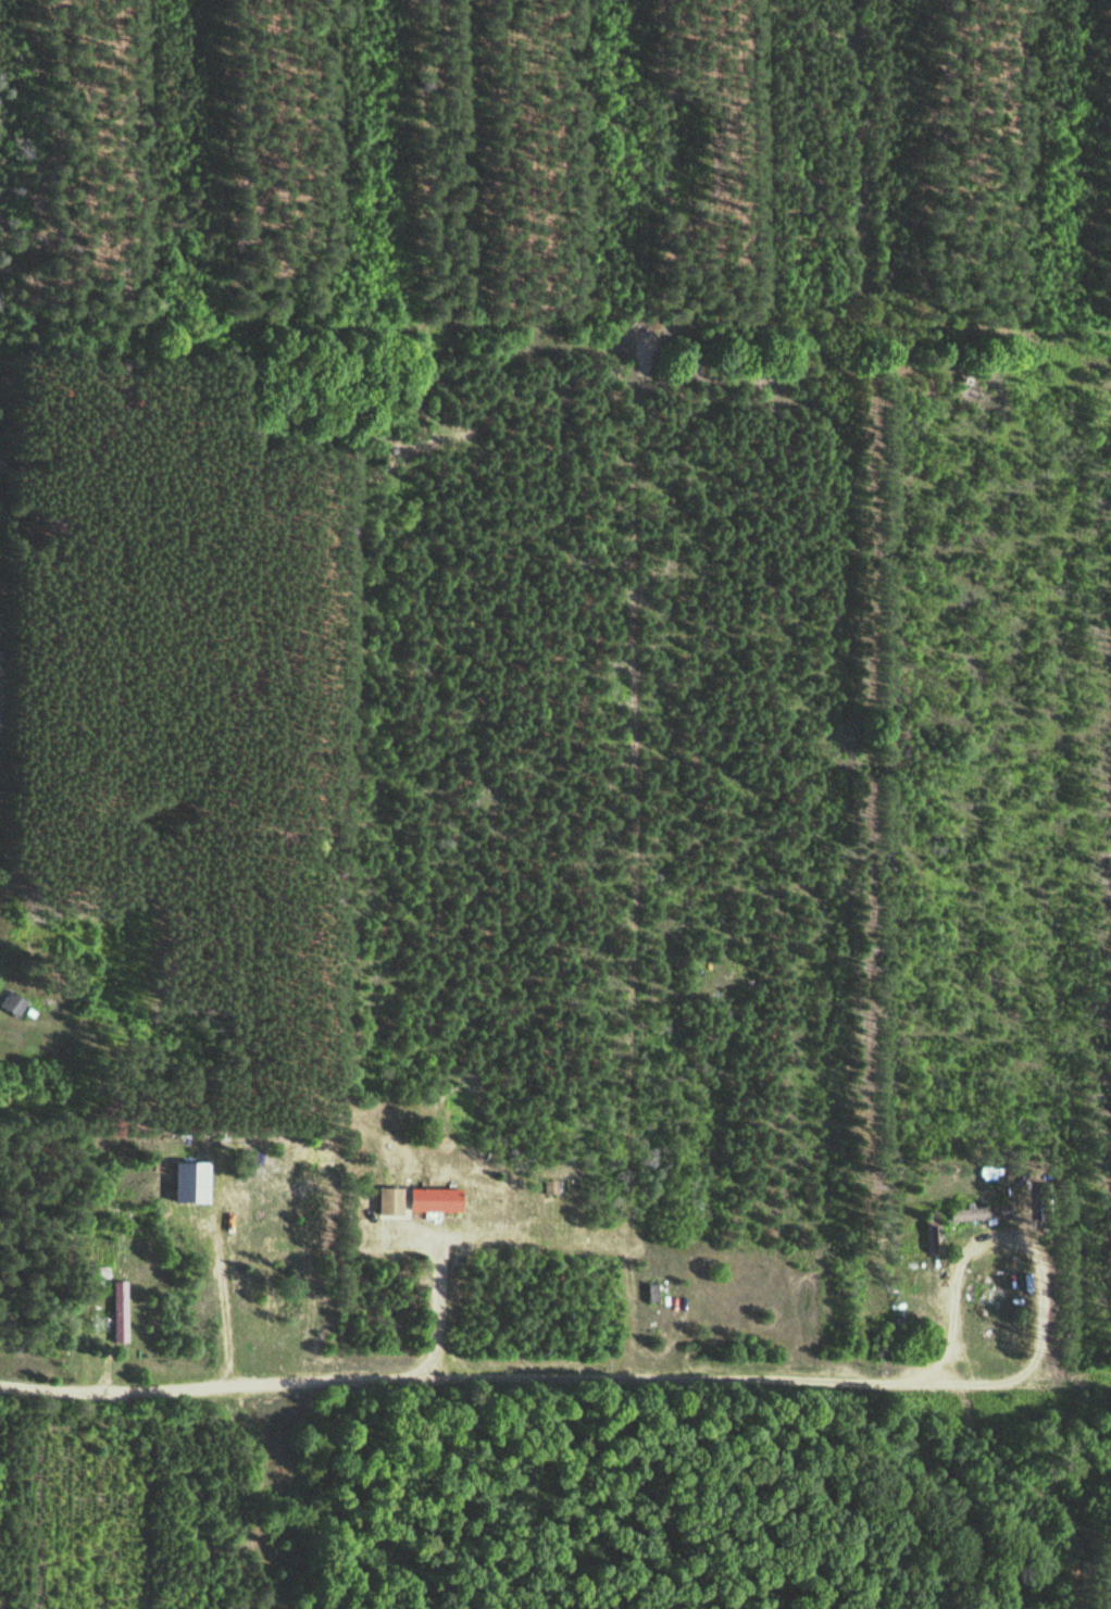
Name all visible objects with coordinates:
road: (869, 171)
road: (554, 339)
building: (10, 1003)
building: (417, 1199)
building: (978, 1213)
building: (652, 1292)
building: (118, 1311)
road: (1059, 1385)
road: (503, 1386)

